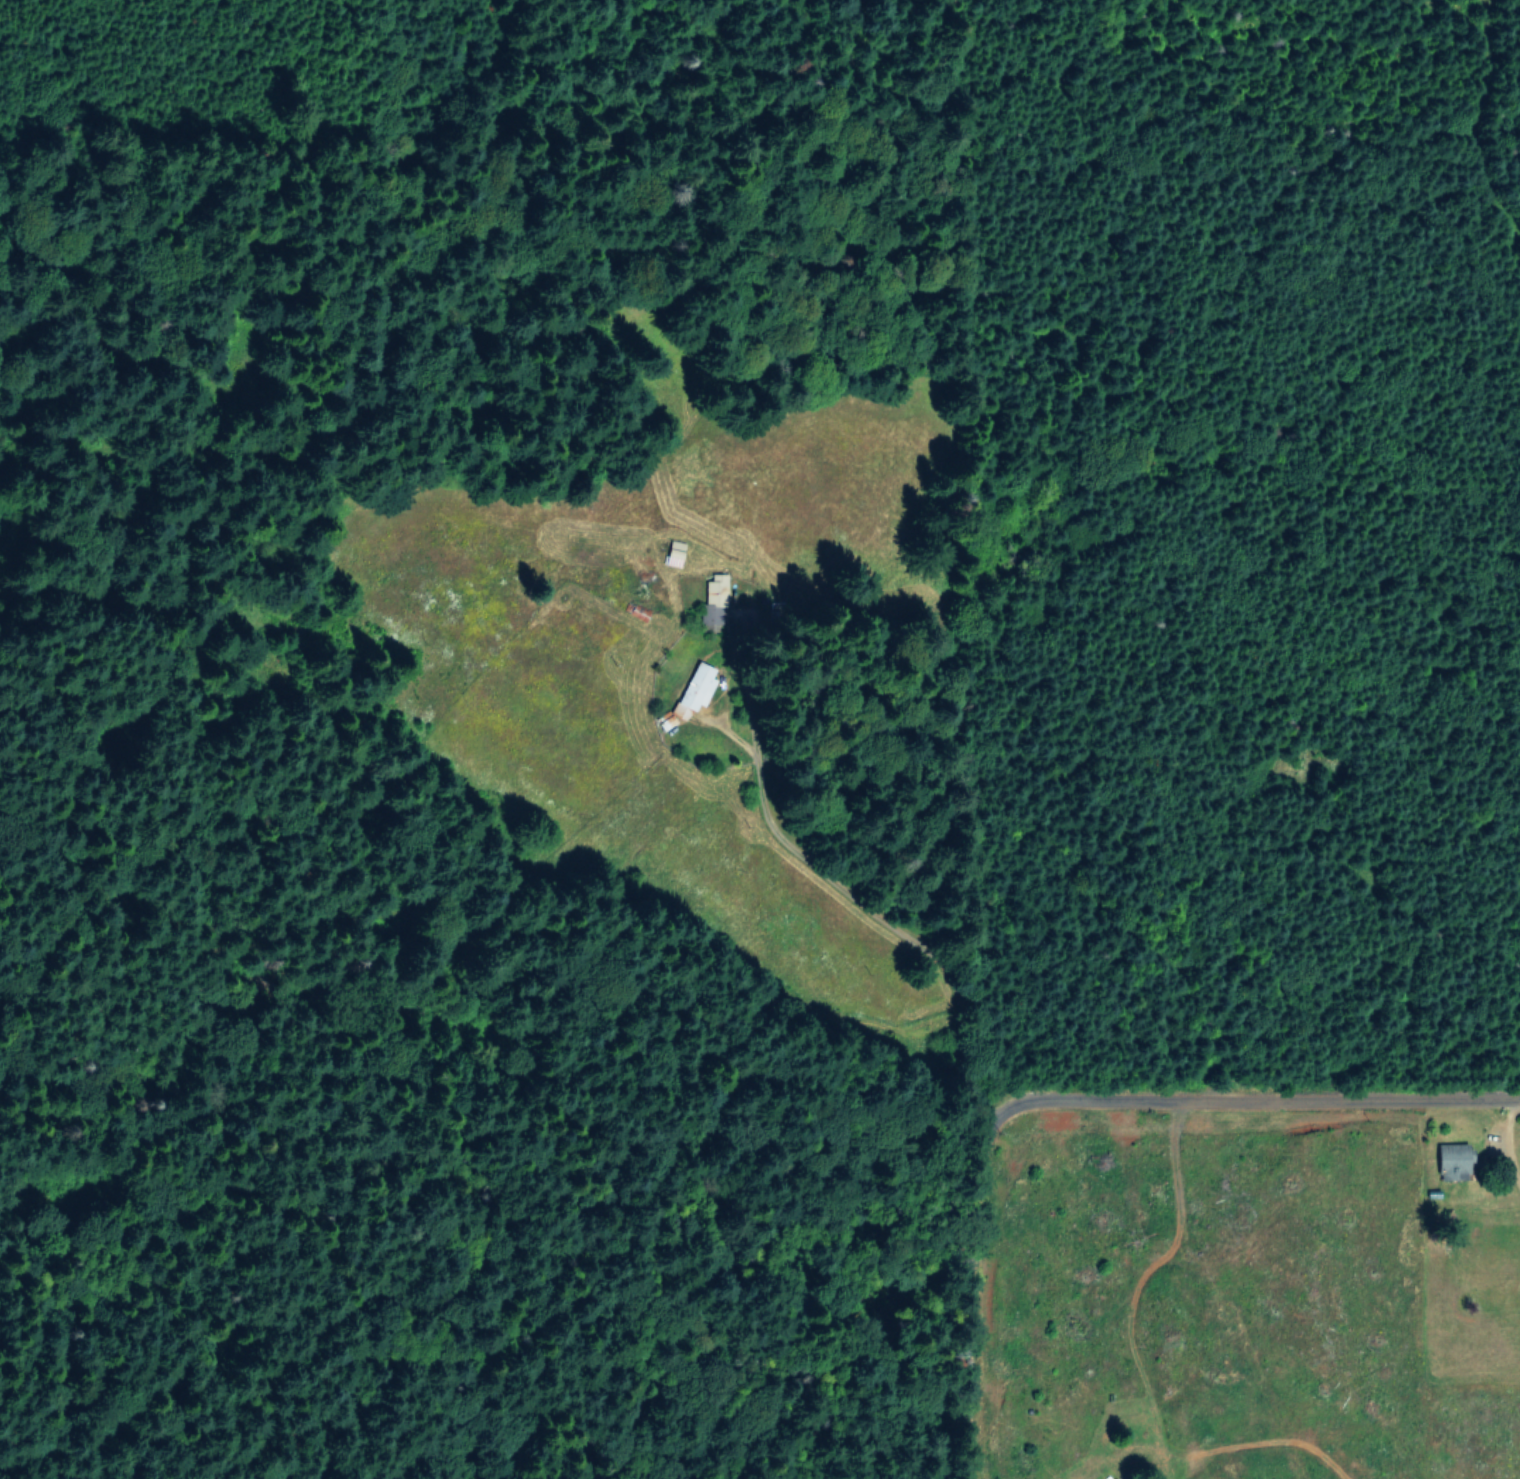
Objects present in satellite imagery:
building: (693, 688)
road: (1070, 1096)
road: (1499, 1142)
building: (1452, 1161)

